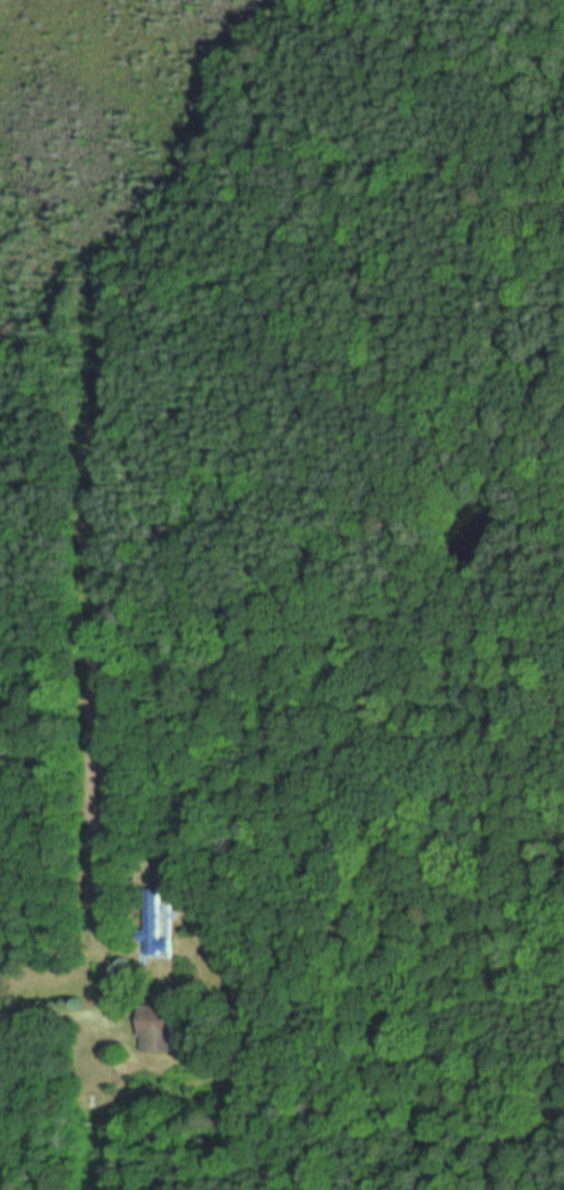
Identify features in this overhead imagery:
building: (153, 923)
building: (151, 1025)

